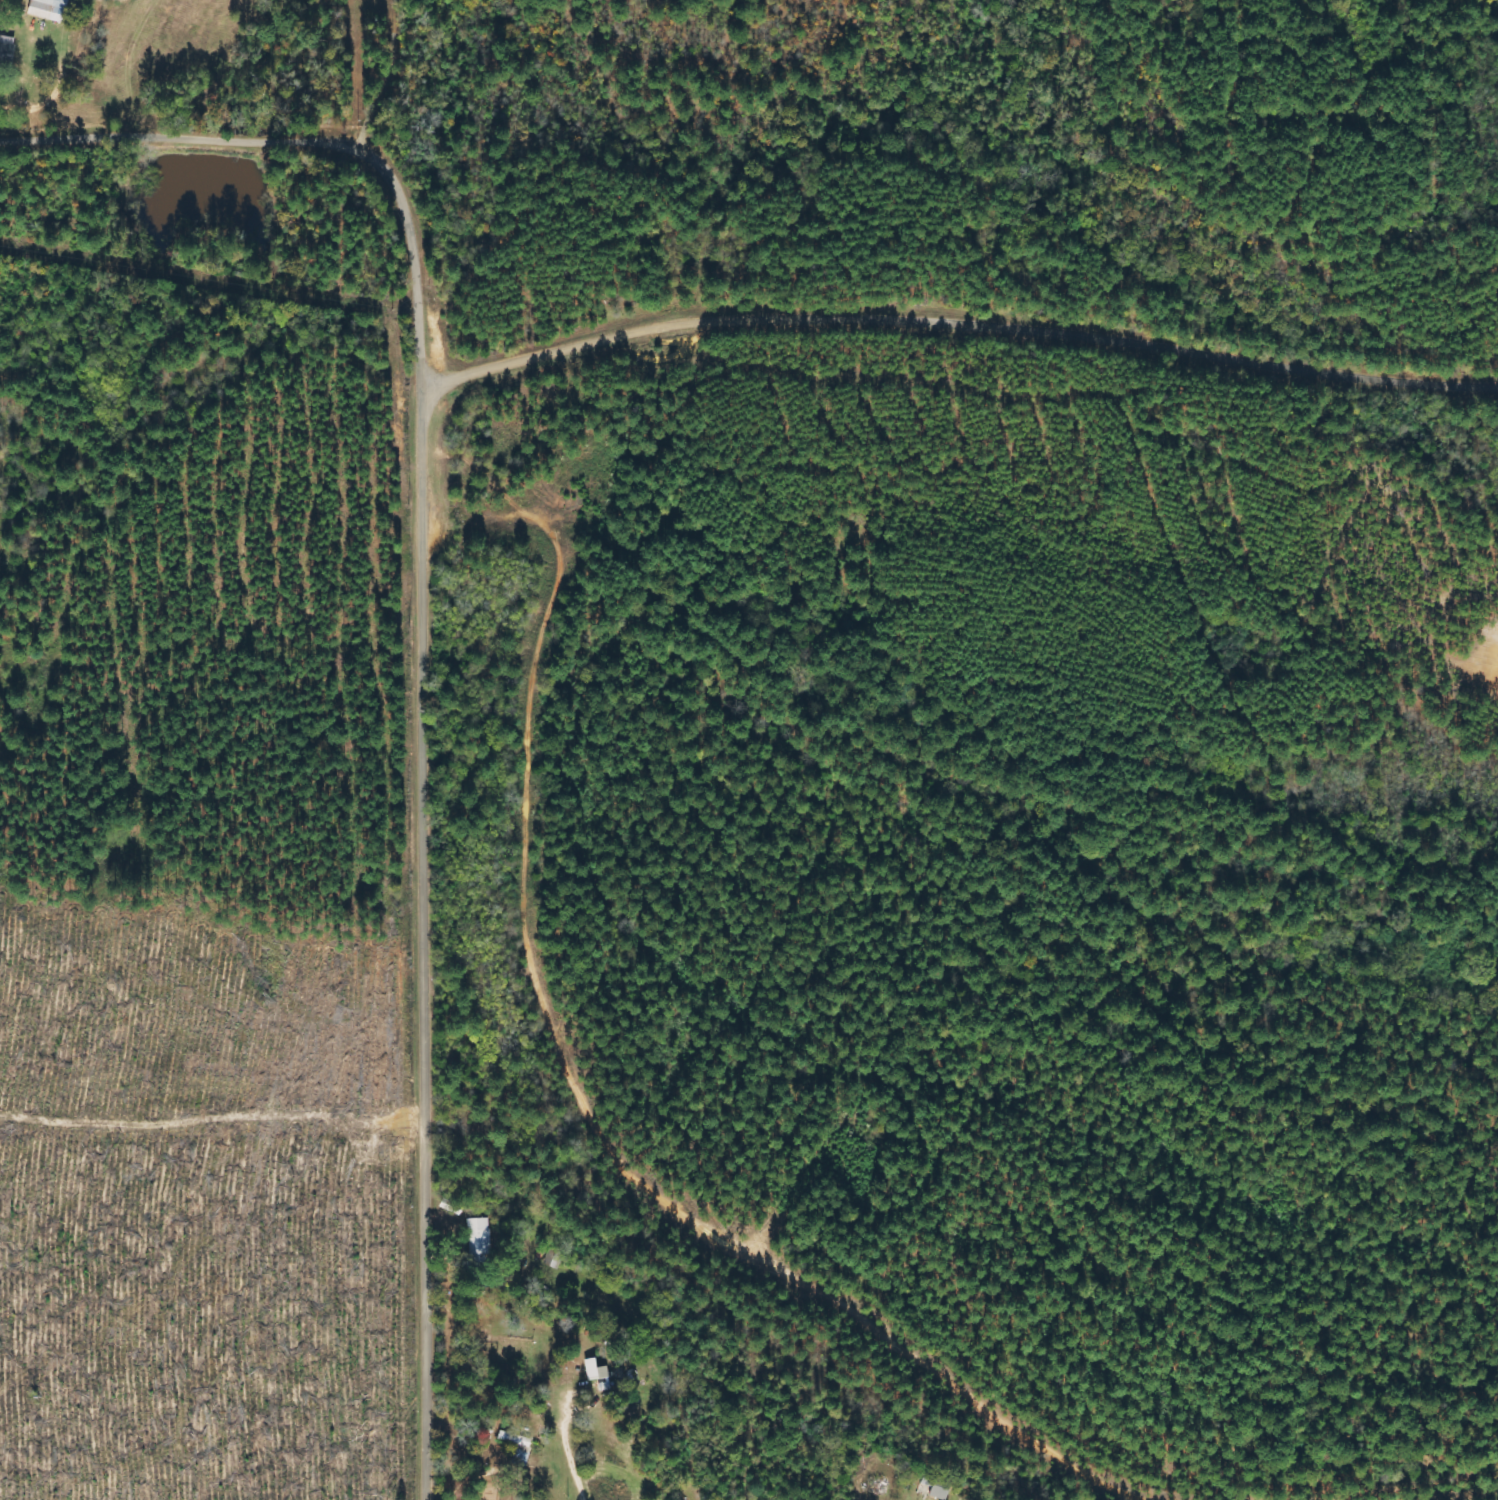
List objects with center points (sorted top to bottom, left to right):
building: (47, 9)
building: (6, 50)
road: (661, 331)
road: (432, 930)
building: (478, 1238)
building: (597, 1374)
building: (934, 1481)

